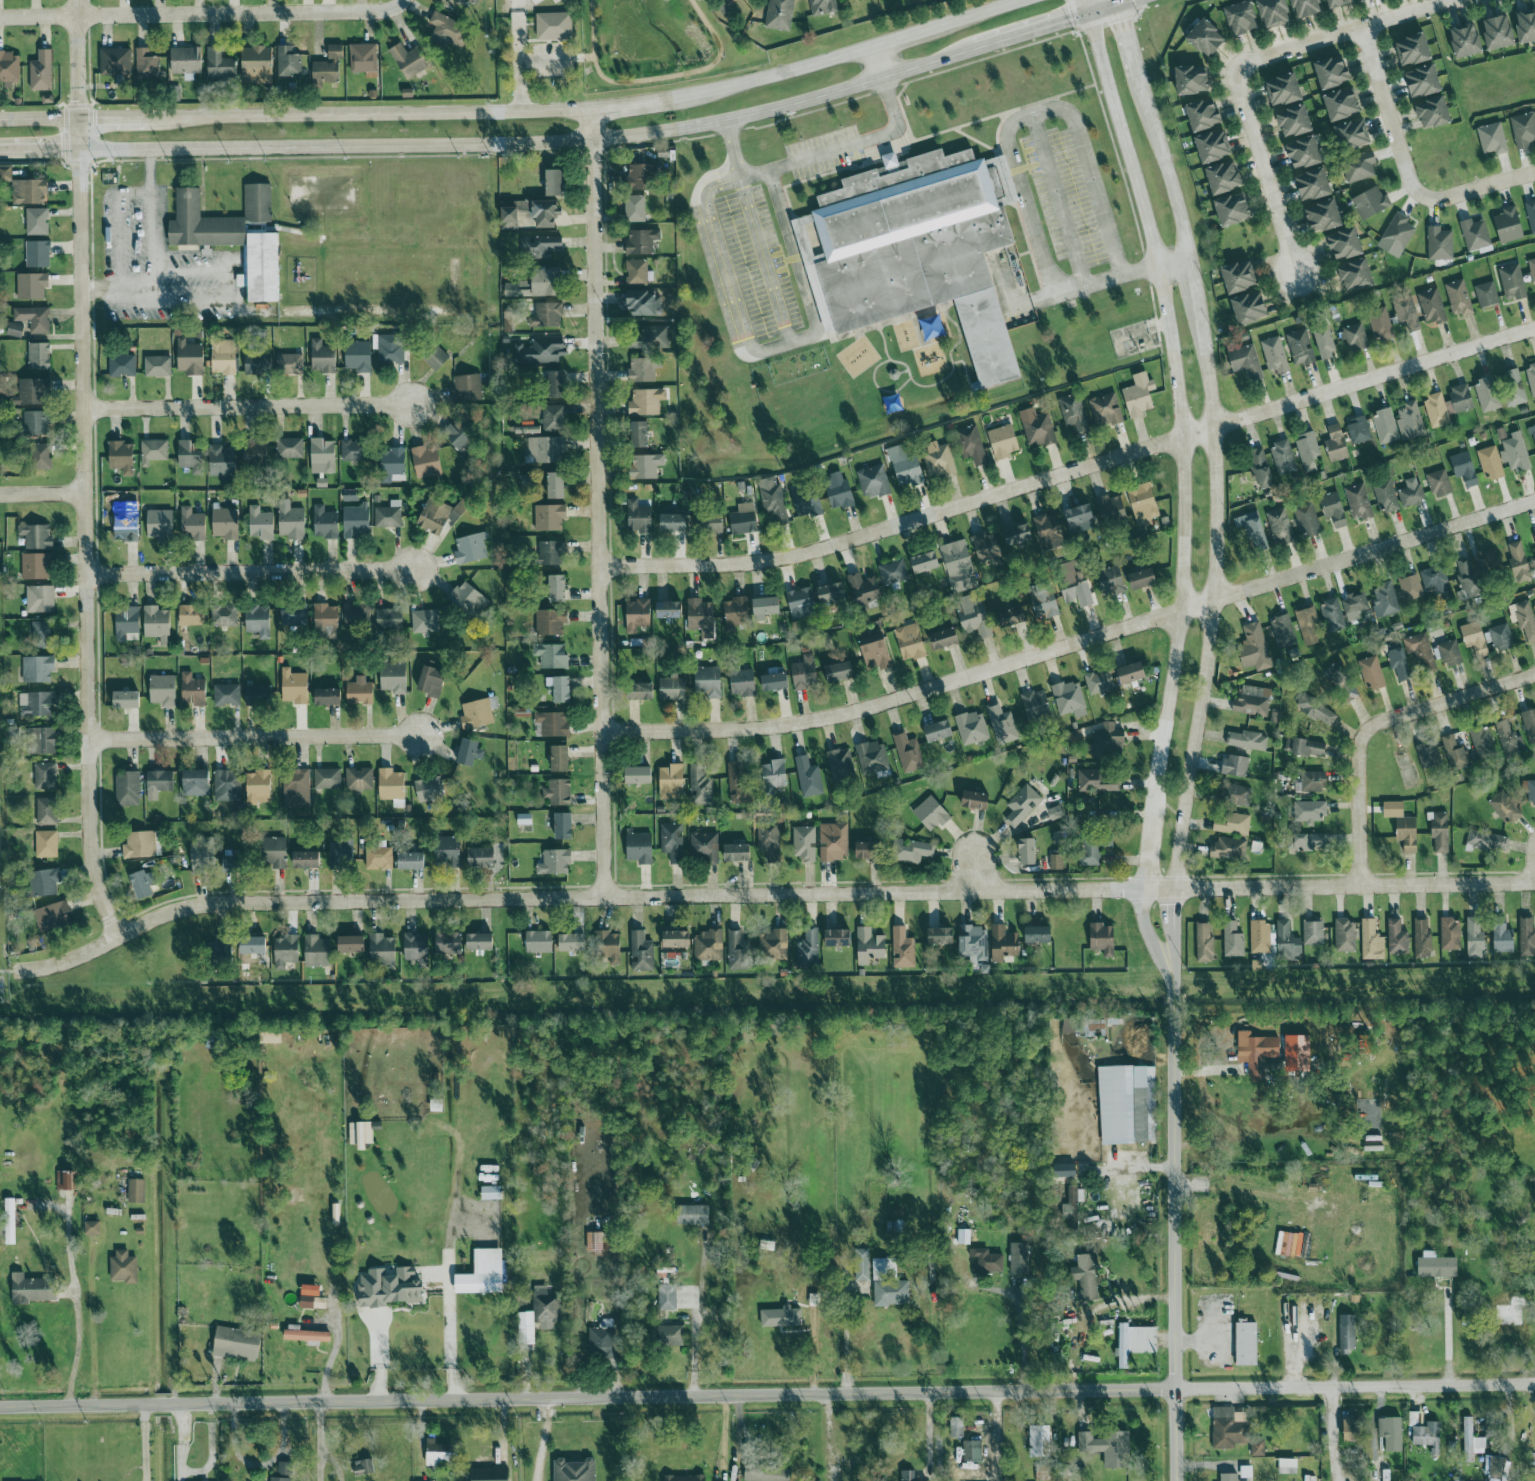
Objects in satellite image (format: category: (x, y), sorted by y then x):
building: (1361, 0)
building: (730, 1)
building: (468, 2)
road: (1119, 3)
road: (1131, 3)
building: (1338, 3)
building: (823, 7)
road: (1087, 8)
building: (1307, 8)
road: (203, 13)
building: (1275, 13)
building: (779, 15)
building: (1242, 18)
traffic signals: (1065, 23)
building: (554, 26)
building: (1526, 26)
road: (1044, 29)
building: (449, 30)
road: (517, 30)
traffic signals: (1127, 31)
building: (1499, 32)
road: (1339, 33)
building: (1207, 37)
building: (1466, 40)
park: (658, 42)
road: (1129, 42)
building: (1414, 49)
building: (335, 51)
road: (582, 58)
building: (364, 59)
building: (409, 60)
building: (115, 61)
building: (186, 62)
building: (288, 62)
road: (519, 62)
road: (879, 63)
building: (147, 64)
building: (220, 64)
building: (257, 65)
building: (9, 68)
building: (41, 71)
building: (325, 72)
building: (1333, 72)
road: (659, 78)
building: (1193, 80)
building: (1424, 81)
building: (1284, 90)
traffic signals: (77, 100)
building: (1343, 104)
road: (521, 111)
building: (1434, 112)
building: (1204, 115)
road: (1391, 117)
traffic signals: (95, 118)
building: (1295, 121)
road: (596, 125)
building: (1523, 130)
building: (1353, 134)
road: (867, 138)
building: (1492, 139)
road: (490, 144)
road: (732, 144)
building: (1214, 146)
traffic signals: (59, 150)
building: (1305, 152)
road: (1083, 153)
road: (1162, 167)
building: (1359, 167)
traffic signals: (77, 168)
road: (148, 170)
road: (1264, 172)
building: (5, 173)
building: (641, 177)
building: (1224, 177)
building: (554, 182)
building: (1314, 185)
road: (1484, 185)
building: (29, 192)
building: (1371, 203)
building: (635, 208)
building: (1234, 209)
building: (530, 213)
building: (1530, 215)
building: (1324, 216)
road: (1030, 219)
building: (37, 221)
road: (117, 225)
building: (1508, 225)
road: (149, 231)
building: (1474, 234)
building: (1397, 235)
building: (234, 237)
building: (642, 241)
road: (791, 241)
building: (1439, 243)
building: (1346, 244)
building: (546, 246)
building: (917, 249)
building: (37, 254)
road: (763, 256)
building: (1532, 269)
road: (189, 270)
building: (638, 273)
road: (1120, 275)
building: (1357, 275)
building: (1241, 277)
road: (724, 282)
building: (1512, 282)
building: (536, 285)
road: (1194, 285)
building: (31, 286)
road: (123, 289)
building: (1486, 295)
building: (1458, 298)
building: (644, 303)
building: (1431, 306)
building: (1251, 308)
building: (1406, 313)
building: (547, 315)
building: (34, 319)
building: (1380, 325)
building: (15, 330)
building: (1355, 336)
building: (651, 338)
building: (1326, 343)
building: (1300, 347)
building: (391, 348)
building: (541, 350)
building: (1274, 355)
building: (39, 356)
building: (359, 356)
building: (223, 357)
building: (322, 357)
building: (190, 358)
building: (435, 358)
building: (1246, 362)
building: (258, 363)
building: (289, 363)
building: (122, 366)
building: (157, 366)
building: (642, 370)
building: (1531, 377)
building: (558, 384)
building: (1514, 387)
building: (466, 388)
building: (32, 393)
building: (1487, 395)
building: (1139, 396)
building: (646, 402)
building: (1447, 405)
road: (248, 406)
building: (1106, 410)
building: (1075, 412)
building: (553, 418)
road: (1181, 421)
building: (1409, 421)
building: (36, 423)
building: (1385, 426)
building: (1038, 428)
building: (1358, 430)
building: (1533, 431)
building: (640, 435)
building: (457, 436)
building: (1004, 442)
building: (1336, 444)
building: (972, 445)
building: (289, 448)
building: (353, 450)
building: (547, 450)
building: (153, 451)
building: (253, 451)
building: (1308, 451)
building: (1515, 453)
building: (42, 456)
building: (190, 456)
building: (322, 456)
building: (121, 457)
building: (1283, 458)
building: (939, 460)
building: (222, 461)
building: (427, 462)
building: (1491, 463)
building: (645, 466)
building: (906, 468)
building: (1464, 468)
road: (1072, 469)
building: (1262, 469)
road: (82, 471)
building: (873, 481)
building: (1439, 483)
building: (556, 485)
building: (838, 491)
building: (1411, 492)
road: (41, 493)
building: (351, 494)
building: (1386, 495)
building: (772, 502)
building: (1358, 502)
building: (1143, 504)
building: (805, 505)
building: (1333, 509)
building: (1111, 511)
building: (439, 515)
building: (388, 516)
building: (549, 517)
road: (601, 518)
building: (639, 518)
building: (744, 519)
building: (1082, 519)
building: (1307, 520)
building: (291, 521)
building: (356, 522)
building: (126, 523)
building: (160, 523)
building: (225, 523)
building: (325, 523)
building: (673, 523)
building: (261, 524)
building: (711, 524)
building: (192, 525)
building: (1280, 527)
building: (1253, 531)
building: (1049, 532)
building: (1017, 536)
building: (36, 537)
building: (1534, 539)
building: (471, 549)
building: (988, 549)
building: (552, 553)
building: (957, 559)
building: (926, 562)
building: (1519, 562)
building: (34, 567)
road: (250, 572)
building: (893, 572)
building: (1476, 574)
building: (1143, 579)
building: (1111, 581)
building: (1436, 582)
building: (1077, 585)
building: (558, 588)
building: (1410, 588)
building: (864, 589)
building: (832, 593)
building: (40, 599)
building: (469, 600)
building: (1384, 600)
building: (1044, 601)
road: (1221, 601)
building: (802, 603)
building: (1355, 605)
building: (767, 606)
building: (1533, 609)
building: (670, 610)
building: (736, 613)
building: (356, 614)
building: (700, 614)
building: (191, 615)
building: (224, 615)
building: (638, 615)
building: (1016, 615)
building: (973, 616)
building: (1332, 616)
building: (293, 617)
building: (389, 619)
building: (1523, 619)
building: (258, 621)
building: (326, 621)
building: (425, 621)
building: (550, 622)
building: (127, 623)
building: (157, 624)
building: (1309, 627)
building: (42, 634)
building: (1501, 638)
building: (945, 639)
building: (1475, 639)
building: (910, 642)
building: (1254, 642)
road: (1074, 645)
building: (876, 652)
building: (1450, 653)
building: (552, 656)
building: (1412, 657)
building: (37, 669)
building: (840, 672)
building: (805, 673)
building: (1373, 673)
building: (1132, 674)
building: (394, 678)
building: (432, 681)
building: (709, 682)
building: (776, 682)
building: (1099, 682)
building: (743, 683)
building: (294, 687)
building: (561, 689)
building: (673, 689)
building: (163, 690)
building: (193, 690)
building: (359, 692)
building: (641, 692)
building: (227, 695)
building: (257, 696)
building: (328, 697)
building: (1070, 699)
building: (127, 700)
building: (1253, 701)
building: (36, 704)
building: (1036, 706)
building: (1317, 710)
building: (476, 714)
road: (1377, 723)
building: (553, 724)
building: (1002, 724)
building: (972, 728)
building: (939, 731)
road: (254, 737)
building: (1074, 737)
building: (1507, 738)
building: (1248, 740)
building: (44, 741)
building: (1108, 742)
building: (1482, 744)
building: (1305, 747)
building: (468, 752)
building: (908, 752)
building: (1455, 754)
building: (1429, 756)
building: (872, 757)
building: (560, 759)
building: (1236, 765)
building: (841, 768)
building: (775, 774)
building: (45, 776)
building: (639, 776)
building: (808, 778)
building: (327, 779)
building: (359, 779)
building: (1097, 781)
building: (1314, 781)
building: (672, 782)
building: (196, 783)
building: (738, 783)
building: (158, 784)
building: (227, 786)
building: (257, 786)
building: (700, 786)
building: (392, 787)
building: (296, 789)
building: (127, 790)
building: (429, 790)
building: (558, 793)
building: (1529, 793)
building: (1233, 796)
building: (976, 801)
building: (1022, 805)
building: (1506, 807)
building: (1309, 811)
building: (46, 812)
building: (1056, 813)
building: (931, 814)
building: (524, 819)
building: (1232, 824)
building: (1403, 826)
building: (564, 827)
building: (1441, 833)
building: (1487, 841)
building: (833, 842)
building: (1311, 842)
building: (672, 843)
building: (46, 844)
building: (770, 844)
building: (804, 844)
building: (139, 845)
building: (640, 847)
building: (704, 847)
building: (1229, 849)
building: (449, 851)
building: (866, 851)
building: (910, 851)
building: (275, 852)
building: (1028, 852)
building: (1090, 852)
building: (340, 854)
building: (737, 854)
building: (480, 857)
building: (203, 859)
building: (379, 859)
building: (306, 860)
road: (1145, 861)
building: (411, 862)
building: (1056, 862)
building: (555, 863)
building: (231, 864)
road: (978, 872)
building: (43, 883)
building: (143, 885)
road: (1337, 885)
road: (572, 897)
road: (1181, 907)
building: (52, 917)
building: (1313, 932)
building: (1450, 934)
building: (1038, 935)
building: (1345, 935)
building: (941, 936)
building: (1260, 937)
building: (1526, 937)
building: (838, 938)
building: (1397, 938)
building: (1475, 938)
building: (1102, 939)
building: (1422, 939)
building: (1504, 939)
building: (677, 940)
road: (1150, 941)
building: (1233, 941)
building: (1287, 941)
building: (1372, 941)
building: (480, 942)
building: (539, 942)
building: (974, 942)
building: (1204, 942)
building: (448, 943)
building: (573, 943)
building: (773, 944)
building: (1003, 944)
building: (352, 945)
building: (609, 946)
building: (708, 946)
building: (870, 946)
building: (219, 948)
building: (417, 949)
building: (903, 949)
building: (252, 950)
building: (382, 950)
building: (808, 950)
building: (737, 951)
building: (317, 952)
building: (641, 952)
building: (286, 953)
road: (1177, 959)
road: (8, 971)
road: (0, 985)
building: (1087, 1027)
building: (1257, 1052)
building: (1126, 1103)
building: (360, 1134)
building: (67, 1179)
building: (136, 1190)
road: (1253, 1190)
building: (491, 1192)
building: (1073, 1204)
building: (693, 1214)
building: (10, 1221)
building: (92, 1228)
road: (1179, 1235)
building: (598, 1241)
building: (1020, 1258)
building: (987, 1261)
building: (862, 1265)
building: (1437, 1265)
building: (123, 1267)
building: (483, 1273)
building: (1086, 1276)
building: (889, 1284)
building: (390, 1287)
building: (33, 1288)
building: (1517, 1297)
building: (667, 1298)
road: (1133, 1298)
building: (313, 1302)
building: (545, 1305)
road: (76, 1310)
building: (1507, 1311)
building: (781, 1317)
road: (1021, 1326)
road: (415, 1327)
building: (1347, 1333)
building: (307, 1335)
building: (526, 1335)
building: (666, 1335)
road: (1447, 1340)
building: (602, 1341)
building: (1135, 1342)
building: (237, 1343)
building: (1246, 1343)
road: (767, 1397)
road: (1332, 1417)
building: (1228, 1427)
building: (957, 1430)
building: (1351, 1430)
building: (1391, 1433)
building: (1472, 1435)
building: (1429, 1436)
building: (1040, 1440)
road: (542, 1441)
road: (319, 1442)
road: (145, 1443)
road: (181, 1443)
building: (1102, 1447)
building: (1258, 1448)
road: (211, 1451)
building: (972, 1451)
building: (437, 1454)
road: (1334, 1463)
building: (1288, 1466)
building: (1494, 1466)
building: (363, 1467)
building: (284, 1468)
building: (574, 1470)
building: (1246, 1471)
building: (767, 1473)
building: (490, 1474)
building: (907, 1475)
building: (1229, 1477)
building: (685, 1478)
building: (279, 1479)

